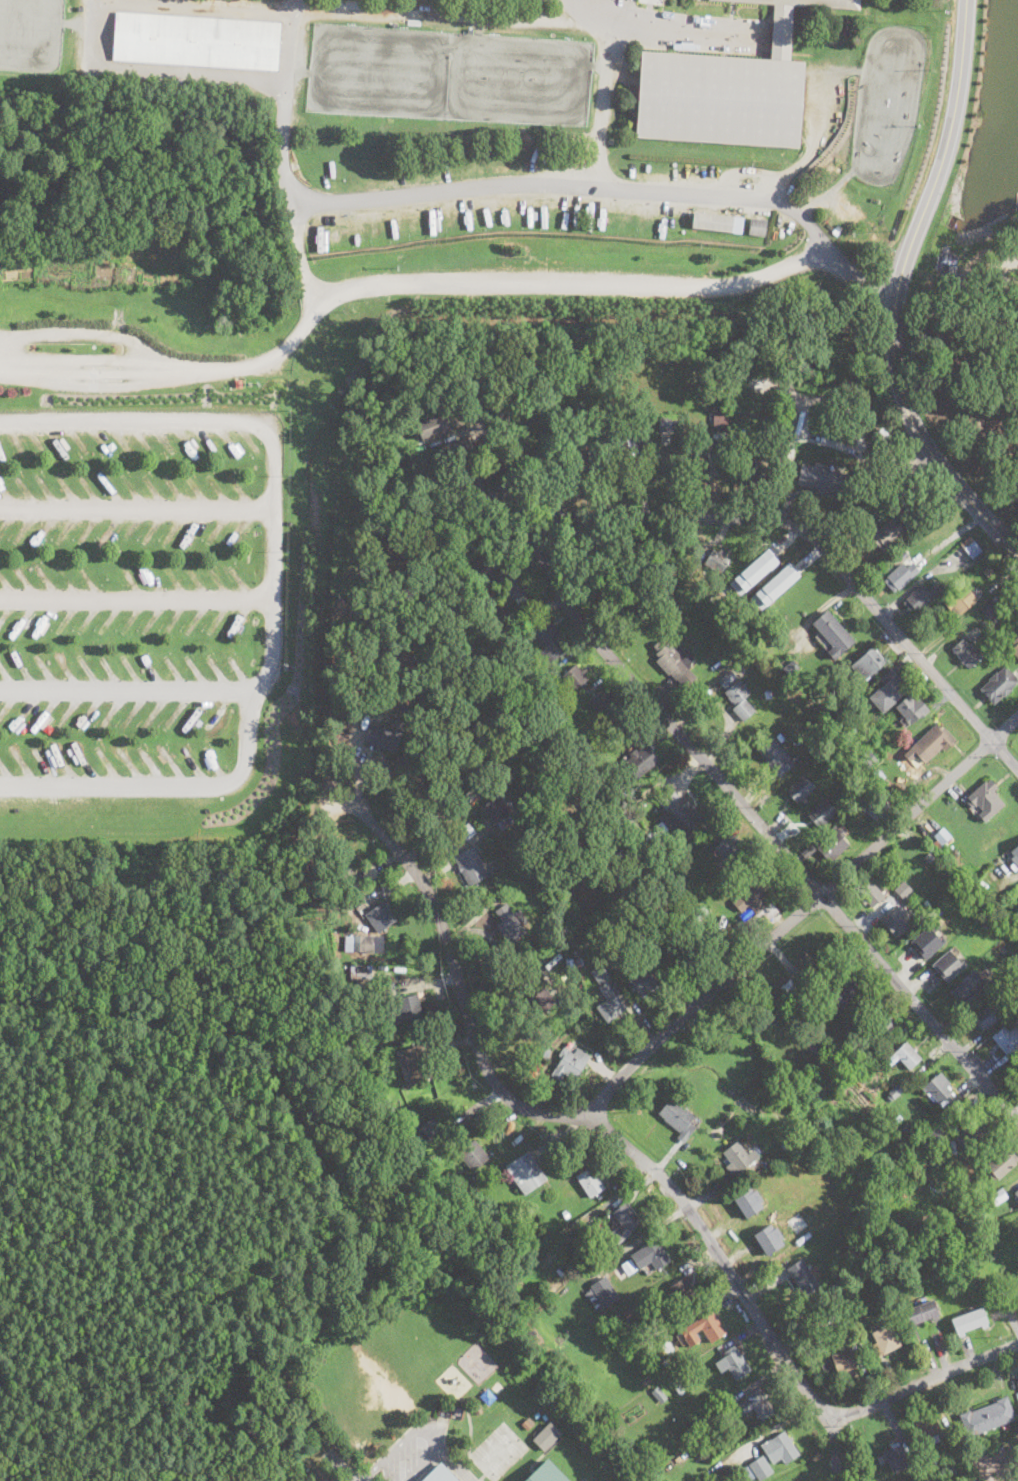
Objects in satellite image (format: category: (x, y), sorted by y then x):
building: (651, 1)
building: (810, 3)
road: (208, 5)
road: (578, 10)
road: (528, 20)
building: (68, 31)
road: (677, 36)
building: (197, 41)
road: (158, 71)
building: (724, 94)
road: (283, 108)
road: (525, 186)
building: (713, 222)
building: (757, 226)
building: (322, 236)
road: (440, 285)
building: (847, 292)
road: (898, 294)
building: (238, 382)
building: (787, 419)
building: (720, 420)
building: (671, 423)
building: (433, 425)
building: (771, 425)
building: (566, 432)
building: (880, 439)
building: (631, 445)
building: (453, 451)
building: (594, 454)
building: (583, 465)
building: (755, 465)
building: (821, 480)
building: (475, 481)
building: (918, 486)
building: (462, 501)
road: (136, 505)
building: (918, 513)
building: (890, 530)
road: (819, 547)
building: (970, 547)
building: (903, 553)
building: (924, 554)
building: (717, 561)
building: (502, 567)
building: (691, 567)
building: (776, 570)
building: (966, 570)
building: (988, 570)
building: (753, 571)
building: (901, 577)
building: (774, 586)
building: (516, 587)
road: (272, 590)
road: (136, 596)
building: (920, 598)
building: (960, 601)
building: (702, 603)
building: (481, 606)
building: (993, 608)
building: (644, 610)
building: (518, 625)
building: (703, 636)
building: (837, 636)
building: (548, 639)
building: (1015, 647)
building: (390, 648)
building: (967, 653)
building: (674, 661)
building: (867, 663)
building: (790, 668)
building: (530, 675)
building: (575, 677)
building: (999, 685)
road: (130, 690)
building: (887, 691)
building: (768, 693)
building: (818, 695)
building: (737, 696)
building: (602, 702)
building: (913, 709)
building: (383, 736)
building: (932, 742)
building: (773, 755)
building: (866, 759)
building: (641, 761)
building: (879, 773)
building: (446, 778)
road: (726, 786)
building: (800, 788)
building: (469, 796)
building: (873, 796)
building: (986, 800)
building: (885, 805)
building: (501, 811)
building: (822, 813)
building: (677, 814)
building: (466, 831)
building: (943, 837)
building: (728, 846)
building: (833, 846)
building: (807, 851)
building: (1016, 852)
building: (593, 855)
building: (929, 856)
building: (630, 857)
building: (381, 865)
building: (471, 866)
building: (557, 873)
building: (610, 879)
building: (909, 880)
building: (299, 883)
building: (904, 889)
building: (870, 894)
building: (963, 895)
building: (752, 903)
building: (1000, 904)
building: (703, 909)
building: (697, 914)
road: (797, 916)
building: (380, 917)
building: (896, 923)
building: (508, 924)
building: (986, 924)
building: (674, 926)
building: (561, 941)
building: (927, 941)
building: (358, 942)
building: (687, 953)
building: (579, 960)
building: (570, 963)
building: (610, 964)
building: (948, 964)
building: (361, 970)
building: (599, 973)
building: (643, 983)
building: (361, 985)
building: (789, 987)
building: (967, 987)
building: (342, 991)
building: (842, 992)
building: (592, 997)
building: (541, 1000)
building: (801, 1000)
building: (610, 1001)
building: (386, 1005)
building: (409, 1007)
building: (988, 1015)
building: (839, 1026)
building: (878, 1029)
building: (1006, 1041)
building: (814, 1046)
building: (841, 1049)
building: (547, 1053)
building: (906, 1055)
building: (847, 1059)
building: (414, 1064)
building: (571, 1064)
building: (793, 1076)
building: (441, 1085)
building: (896, 1091)
building: (941, 1092)
building: (678, 1119)
building: (925, 1126)
building: (908, 1129)
building: (429, 1131)
road: (603, 1133)
building: (973, 1134)
building: (931, 1137)
building: (788, 1144)
building: (474, 1155)
building: (737, 1158)
building: (1001, 1163)
building: (526, 1171)
building: (972, 1175)
building: (590, 1182)
building: (998, 1196)
building: (1016, 1196)
building: (748, 1201)
building: (566, 1214)
building: (627, 1217)
building: (798, 1224)
building: (768, 1238)
building: (606, 1245)
building: (651, 1256)
building: (803, 1277)
building: (982, 1280)
building: (684, 1292)
building: (855, 1292)
building: (601, 1293)
building: (507, 1303)
building: (850, 1306)
building: (629, 1313)
building: (919, 1313)
building: (832, 1316)
building: (968, 1321)
building: (703, 1329)
building: (885, 1340)
building: (845, 1362)
building: (736, 1364)
road: (920, 1382)
building: (677, 1385)
building: (659, 1395)
building: (756, 1404)
building: (476, 1408)
building: (654, 1409)
building: (535, 1415)
building: (987, 1417)
building: (544, 1418)
building: (528, 1422)
building: (697, 1427)
building: (927, 1427)
road: (417, 1429)
building: (546, 1436)
building: (712, 1447)
building: (779, 1449)
building: (896, 1456)
road: (346, 1457)
road: (341, 1466)
building: (758, 1469)
building: (948, 1472)
building: (546, 1473)
road: (364, 1475)
building: (439, 1476)

